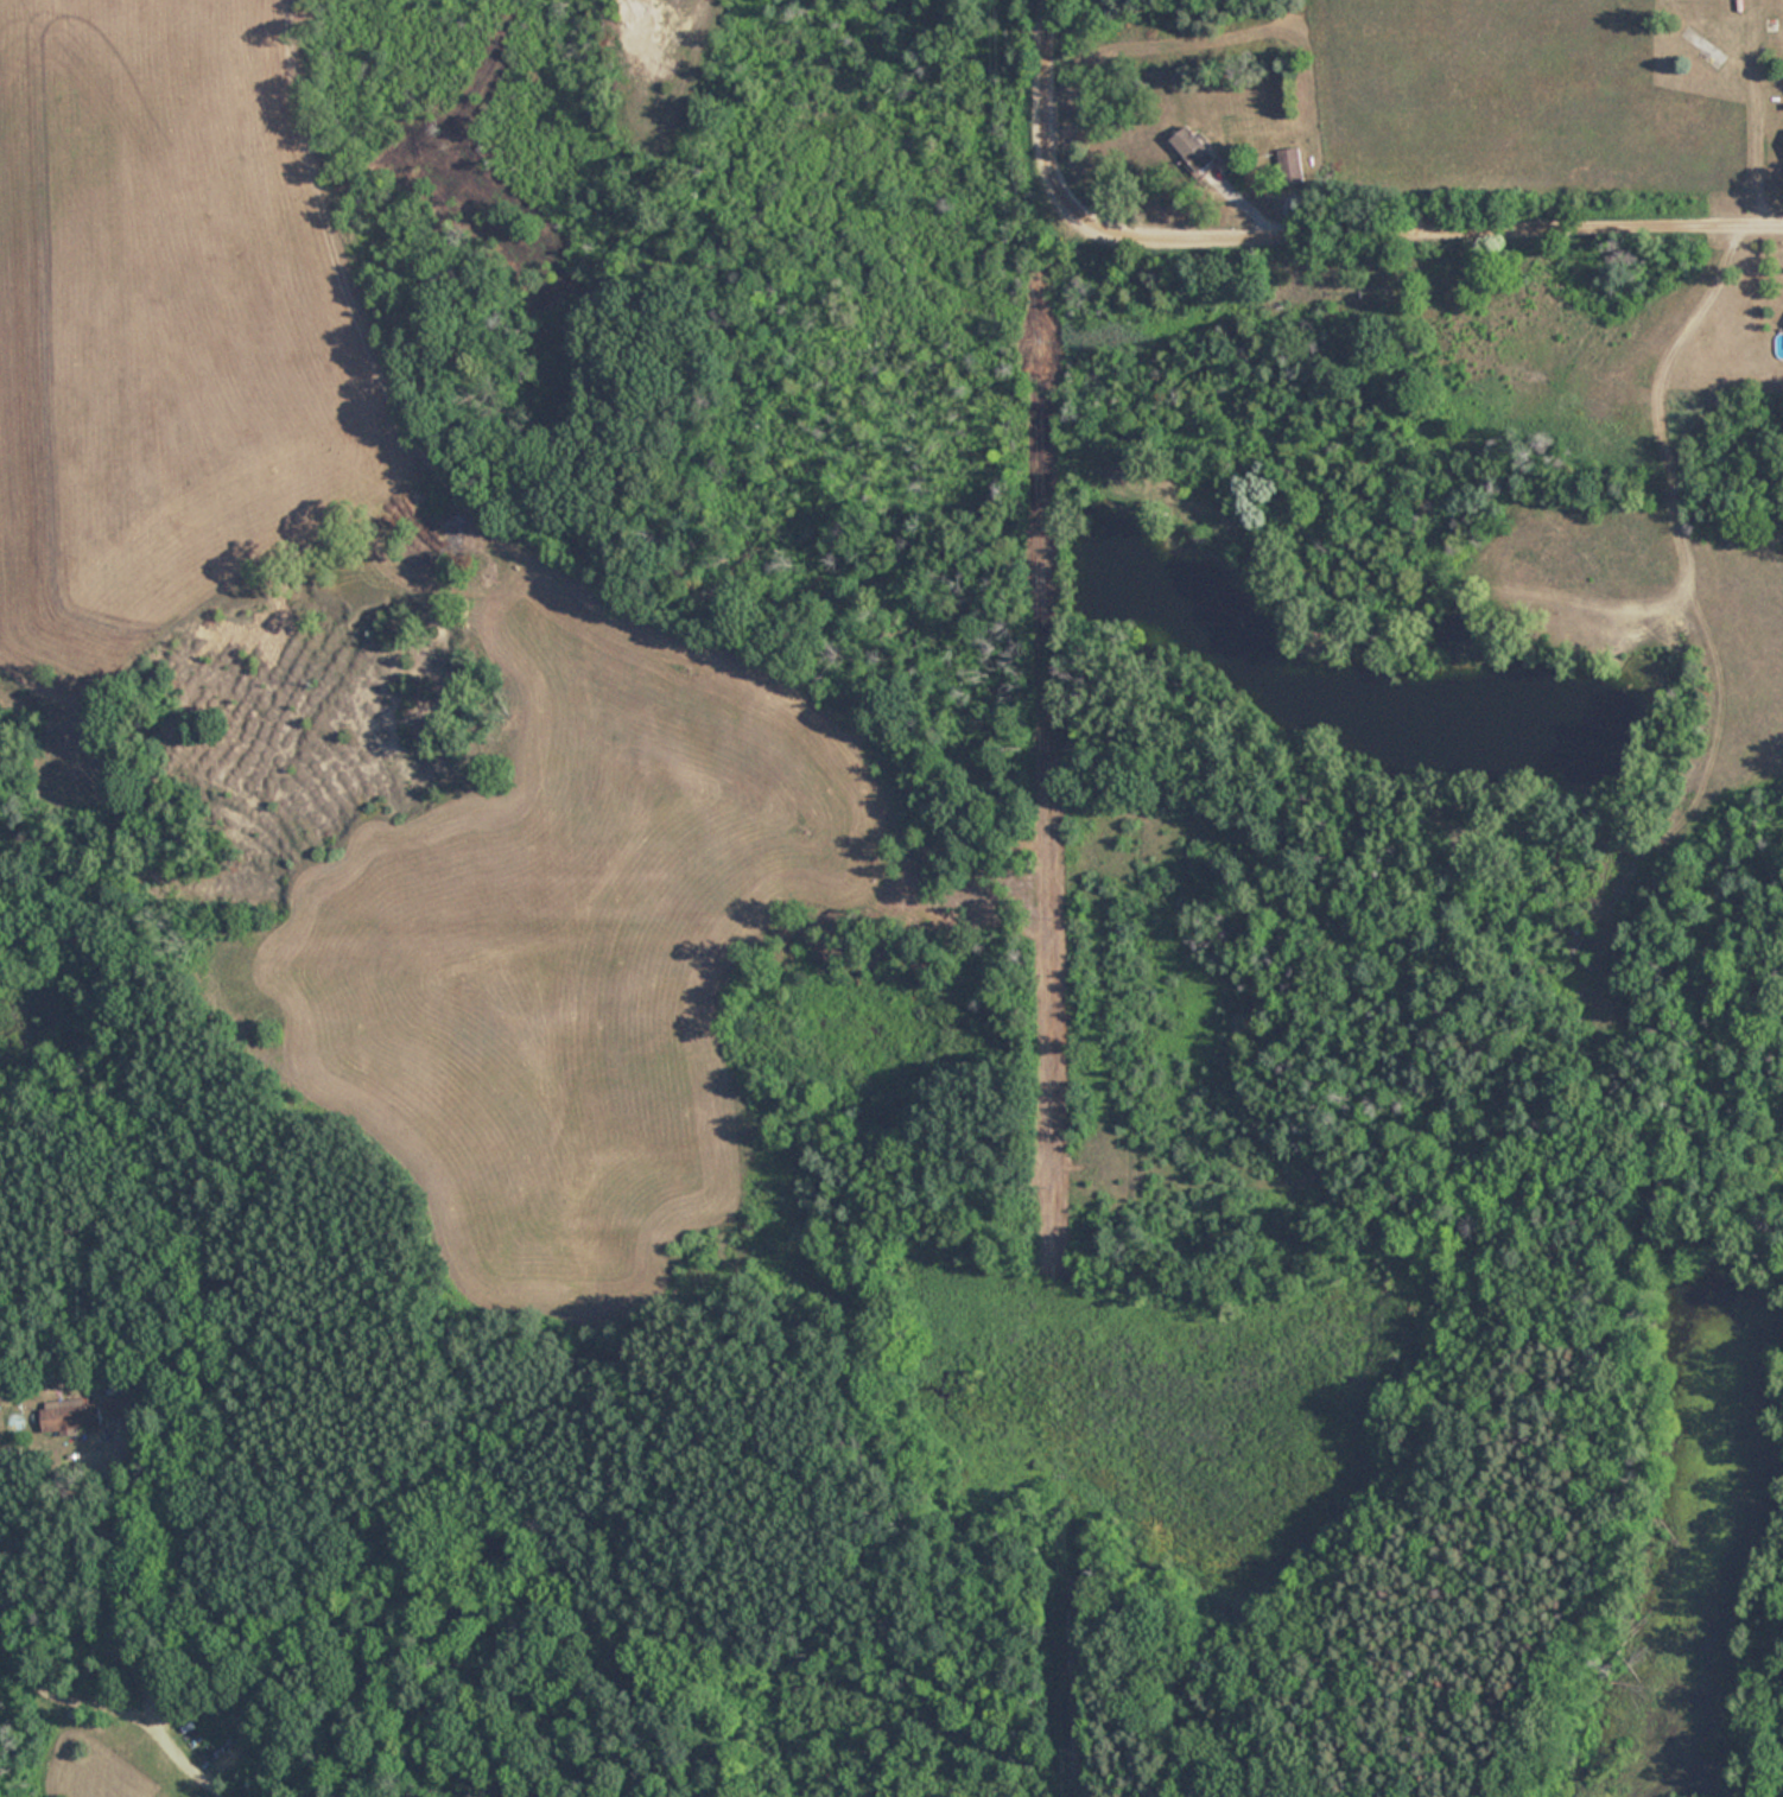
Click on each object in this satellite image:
road: (1043, 114)
building: (1197, 148)
building: (1293, 166)
road: (1423, 235)
building: (72, 1415)

